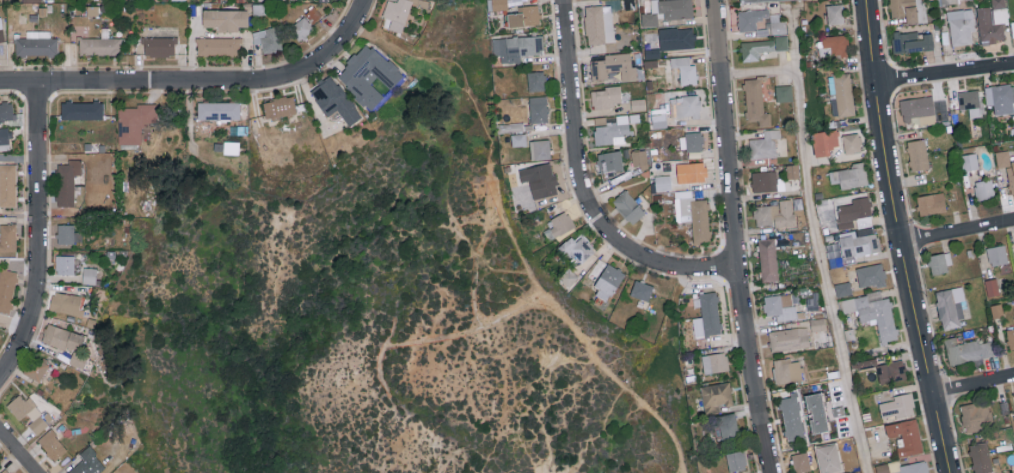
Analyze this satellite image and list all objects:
building: (31, 0)
building: (756, 1)
building: (947, 1)
building: (497, 4)
building: (397, 9)
building: (907, 9)
building: (667, 11)
building: (835, 13)
building: (524, 15)
building: (225, 18)
building: (751, 18)
building: (992, 21)
building: (598, 24)
building: (777, 24)
building: (960, 26)
building: (301, 27)
building: (1012, 27)
building: (1, 30)
building: (685, 37)
building: (267, 38)
road: (792, 41)
building: (912, 41)
building: (781, 42)
building: (36, 43)
building: (100, 45)
building: (159, 45)
building: (219, 45)
building: (833, 45)
building: (516, 47)
building: (755, 48)
building: (613, 66)
building: (685, 69)
road: (944, 70)
building: (349, 75)
building: (536, 80)
road: (202, 84)
building: (783, 92)
building: (841, 93)
building: (606, 96)
building: (1000, 98)
building: (334, 99)
building: (969, 100)
building: (755, 102)
building: (685, 105)
building: (279, 106)
building: (538, 108)
building: (82, 109)
building: (218, 109)
building: (917, 109)
building: (6, 110)
building: (658, 118)
building: (134, 121)
building: (612, 129)
building: (519, 139)
building: (691, 141)
building: (824, 141)
building: (851, 142)
building: (765, 144)
building: (231, 147)
building: (540, 149)
building: (918, 154)
building: (639, 158)
building: (610, 160)
building: (969, 161)
building: (1006, 165)
building: (691, 171)
building: (850, 175)
building: (539, 179)
building: (764, 180)
building: (67, 181)
building: (662, 182)
building: (8, 184)
road: (584, 186)
building: (984, 189)
building: (931, 203)
building: (628, 206)
building: (775, 213)
building: (855, 213)
building: (693, 214)
building: (558, 225)
road: (957, 228)
building: (65, 233)
road: (815, 236)
road: (733, 237)
building: (797, 237)
road: (899, 237)
building: (7, 238)
road: (37, 238)
road: (515, 242)
building: (859, 244)
building: (577, 248)
building: (997, 254)
building: (768, 259)
building: (940, 262)
building: (65, 264)
building: (871, 274)
building: (89, 275)
building: (608, 282)
building: (991, 287)
building: (7, 288)
building: (843, 288)
building: (641, 289)
building: (66, 302)
building: (780, 306)
building: (951, 306)
building: (996, 310)
building: (710, 312)
building: (874, 314)
building: (818, 324)
park: (381, 326)
building: (1010, 337)
building: (789, 338)
building: (66, 342)
building: (966, 350)
building: (714, 362)
building: (869, 362)
building: (36, 368)
building: (786, 370)
building: (891, 371)
road: (973, 381)
building: (717, 394)
building: (897, 406)
building: (29, 412)
building: (816, 412)
building: (976, 414)
building: (792, 417)
building: (728, 425)
building: (906, 436)
building: (52, 444)
road: (18, 452)
building: (980, 457)
building: (736, 460)
building: (86, 462)
building: (800, 462)
building: (903, 467)
building: (6, 470)

